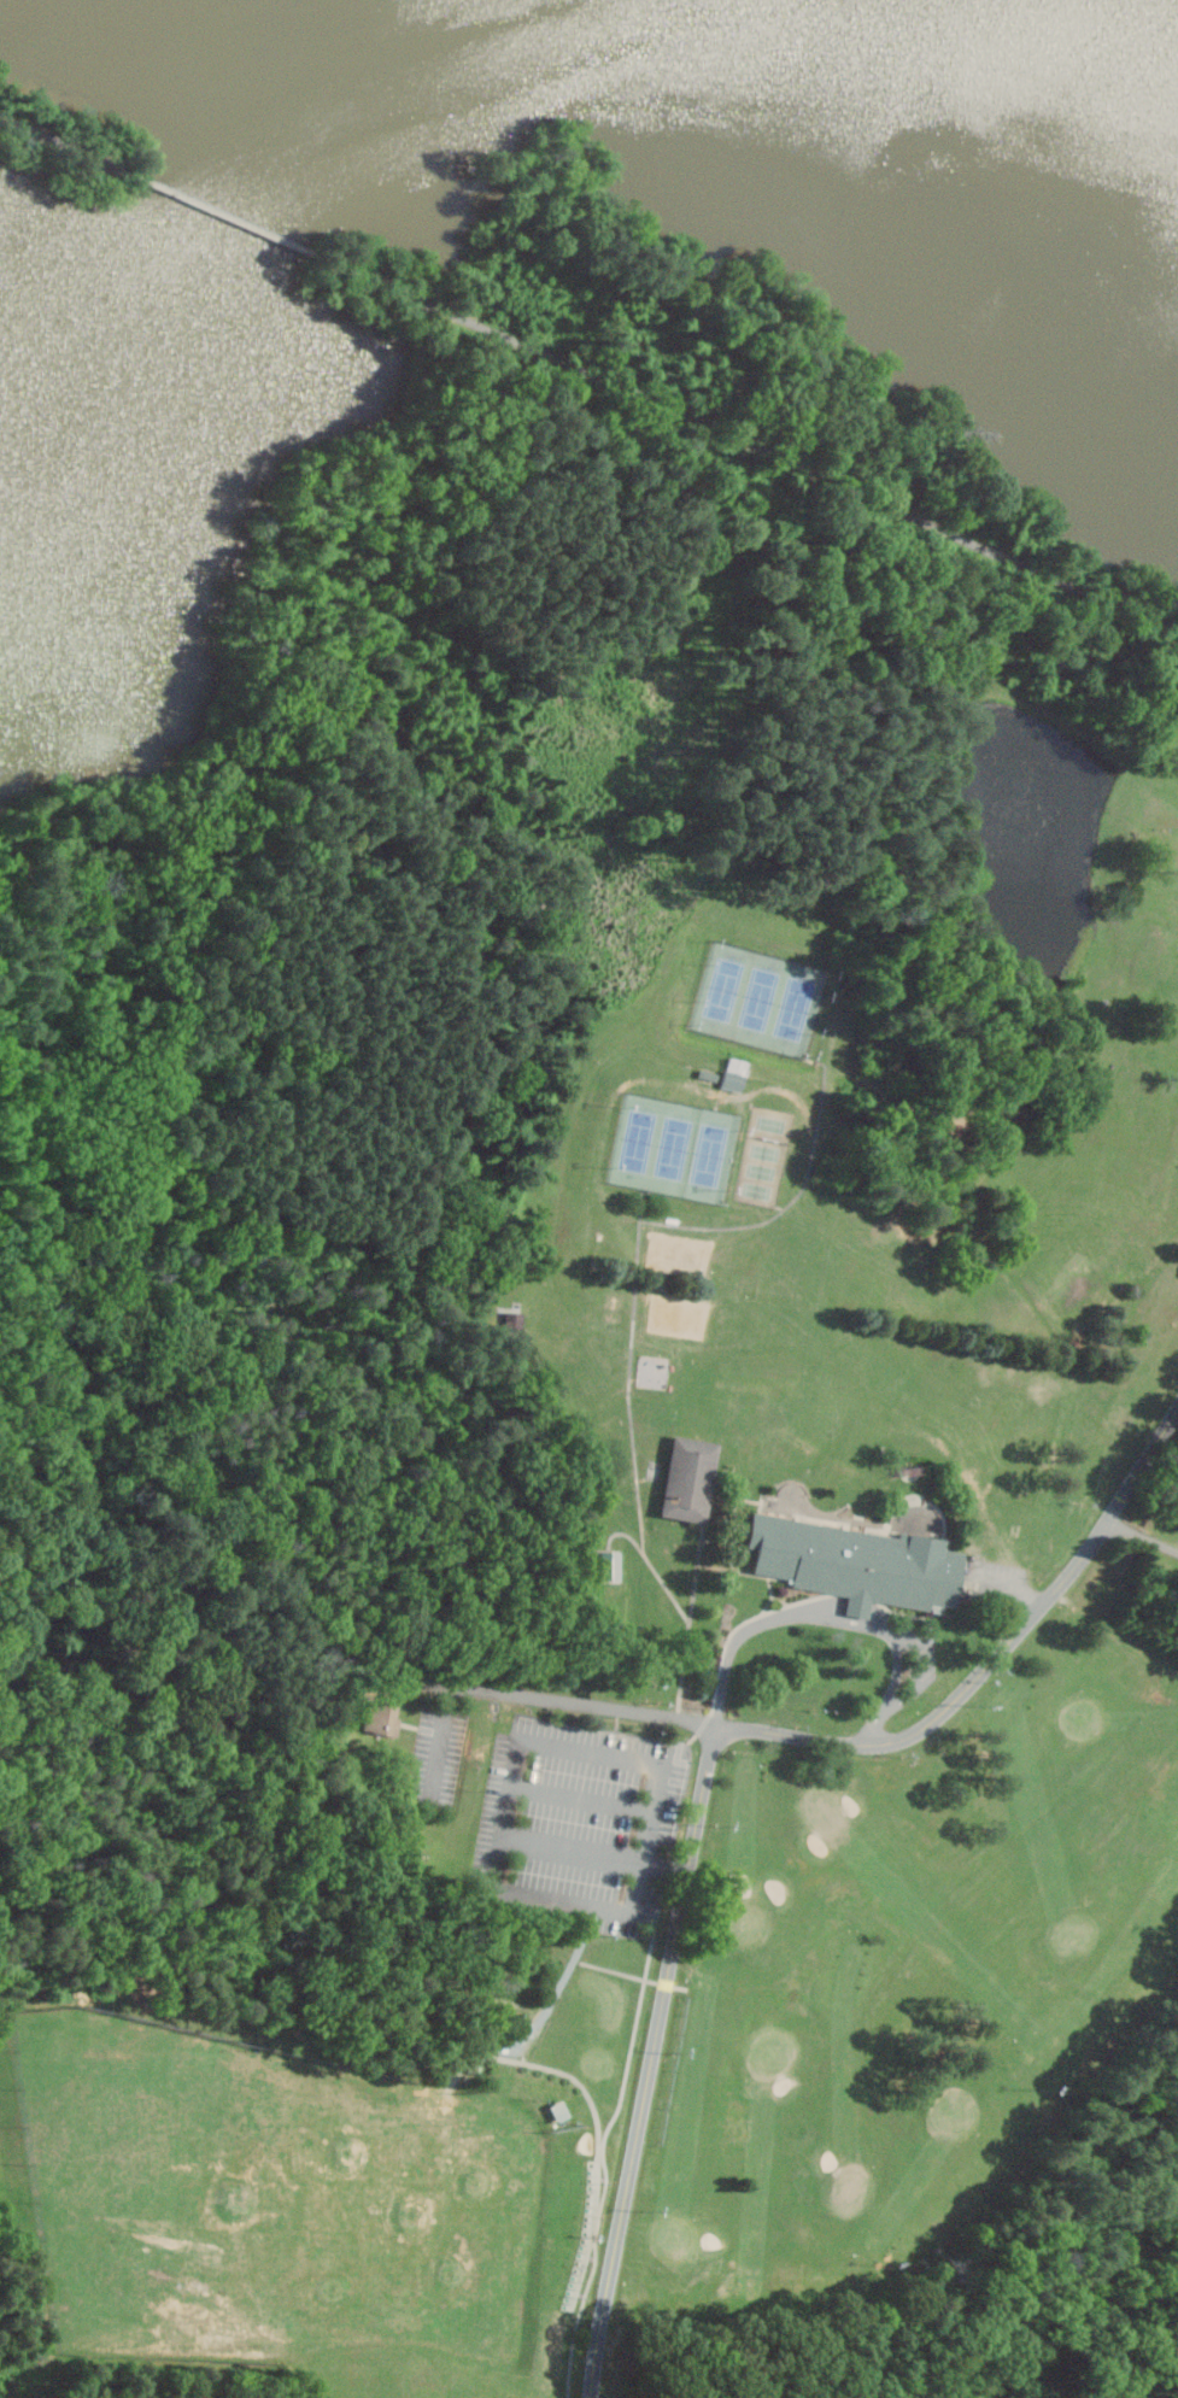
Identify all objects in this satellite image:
road: (72, 142)
road: (238, 217)
road: (756, 440)
road: (304, 690)
park: (764, 997)
road: (60, 1032)
building: (733, 1073)
park: (680, 1145)
building: (510, 1320)
park: (608, 1427)
building: (695, 1479)
road: (1144, 1534)
building: (852, 1560)
building: (615, 1566)
road: (1016, 1584)
road: (123, 1606)
road: (831, 1614)
parking lot: (927, 1665)
road: (920, 1669)
building: (385, 1717)
road: (443, 1745)
road: (857, 1745)
parking lot: (439, 1759)
road: (586, 1796)
road: (510, 1812)
parking lot: (579, 1819)
road: (576, 1848)
park: (909, 1976)
road: (654, 2060)
park: (301, 2201)

